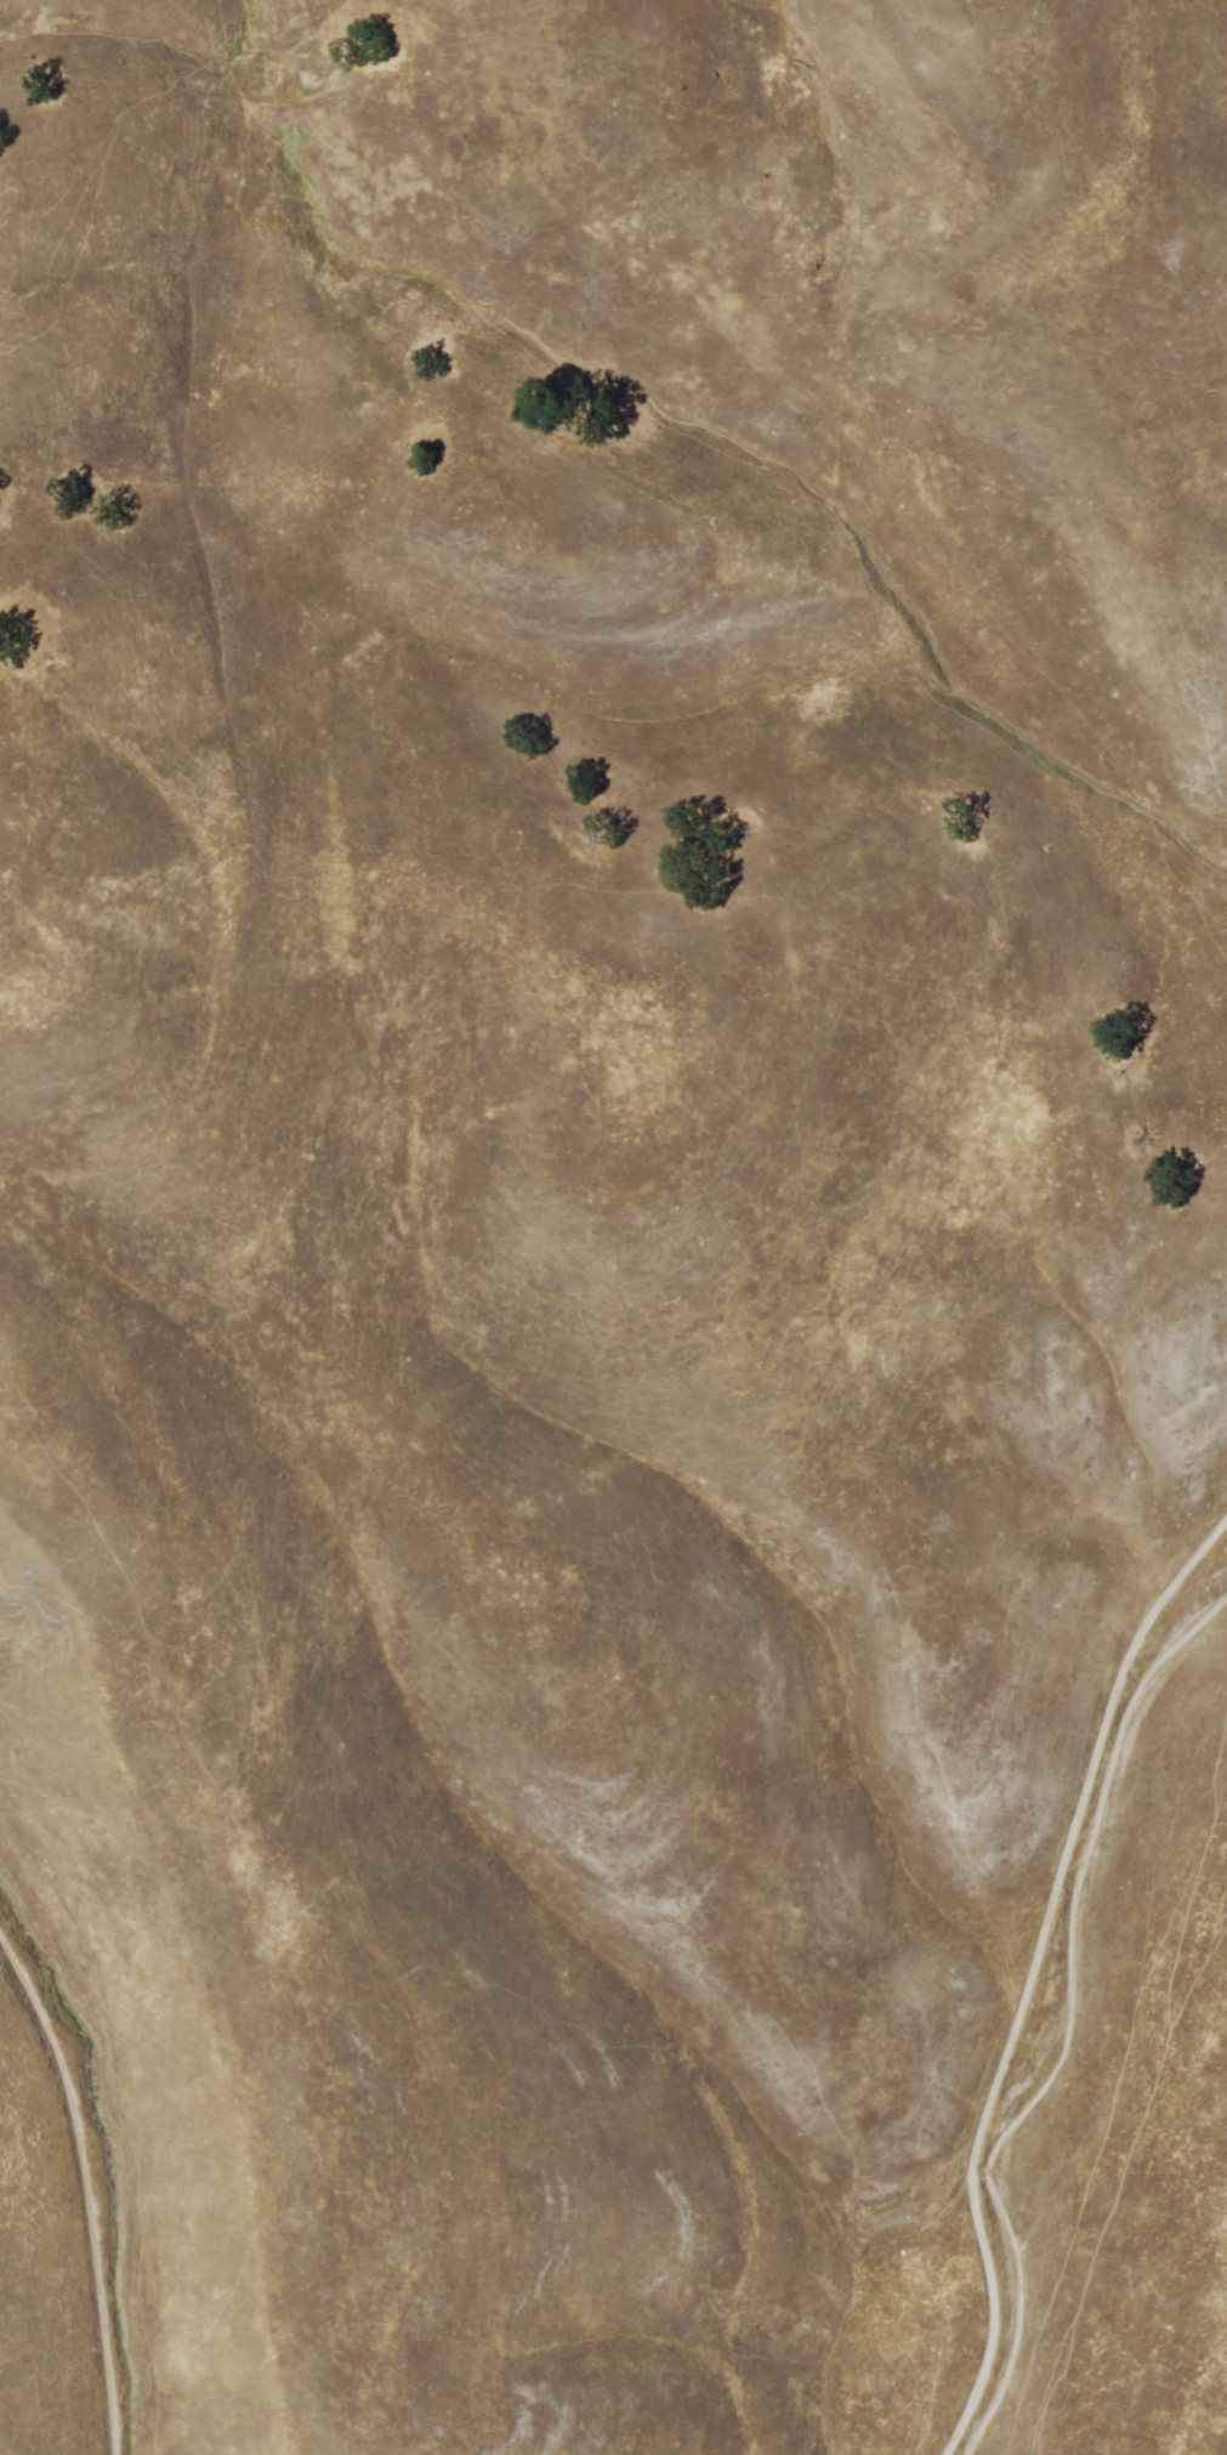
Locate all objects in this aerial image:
road: (1029, 1968)
road: (78, 2196)

